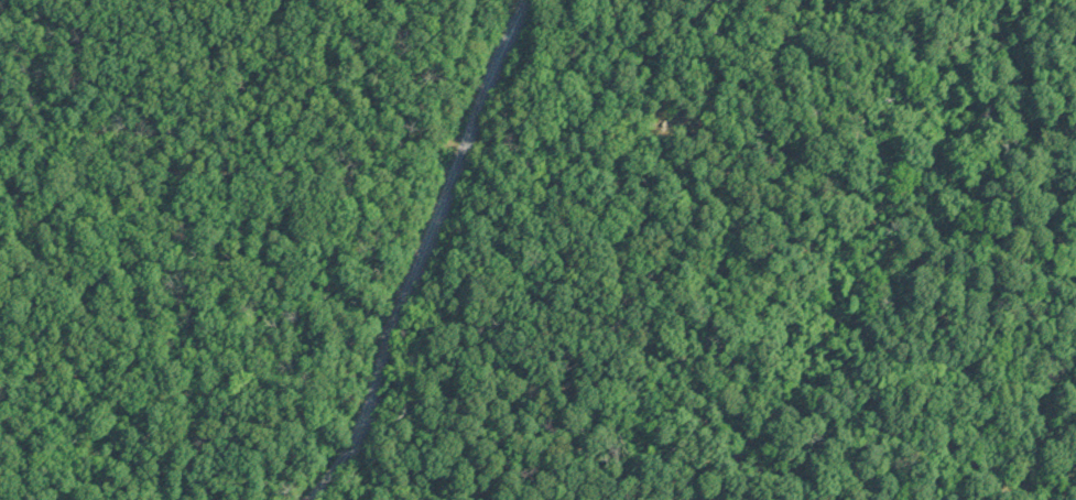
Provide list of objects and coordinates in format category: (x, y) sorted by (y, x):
road: (349, 171)
road: (420, 253)

